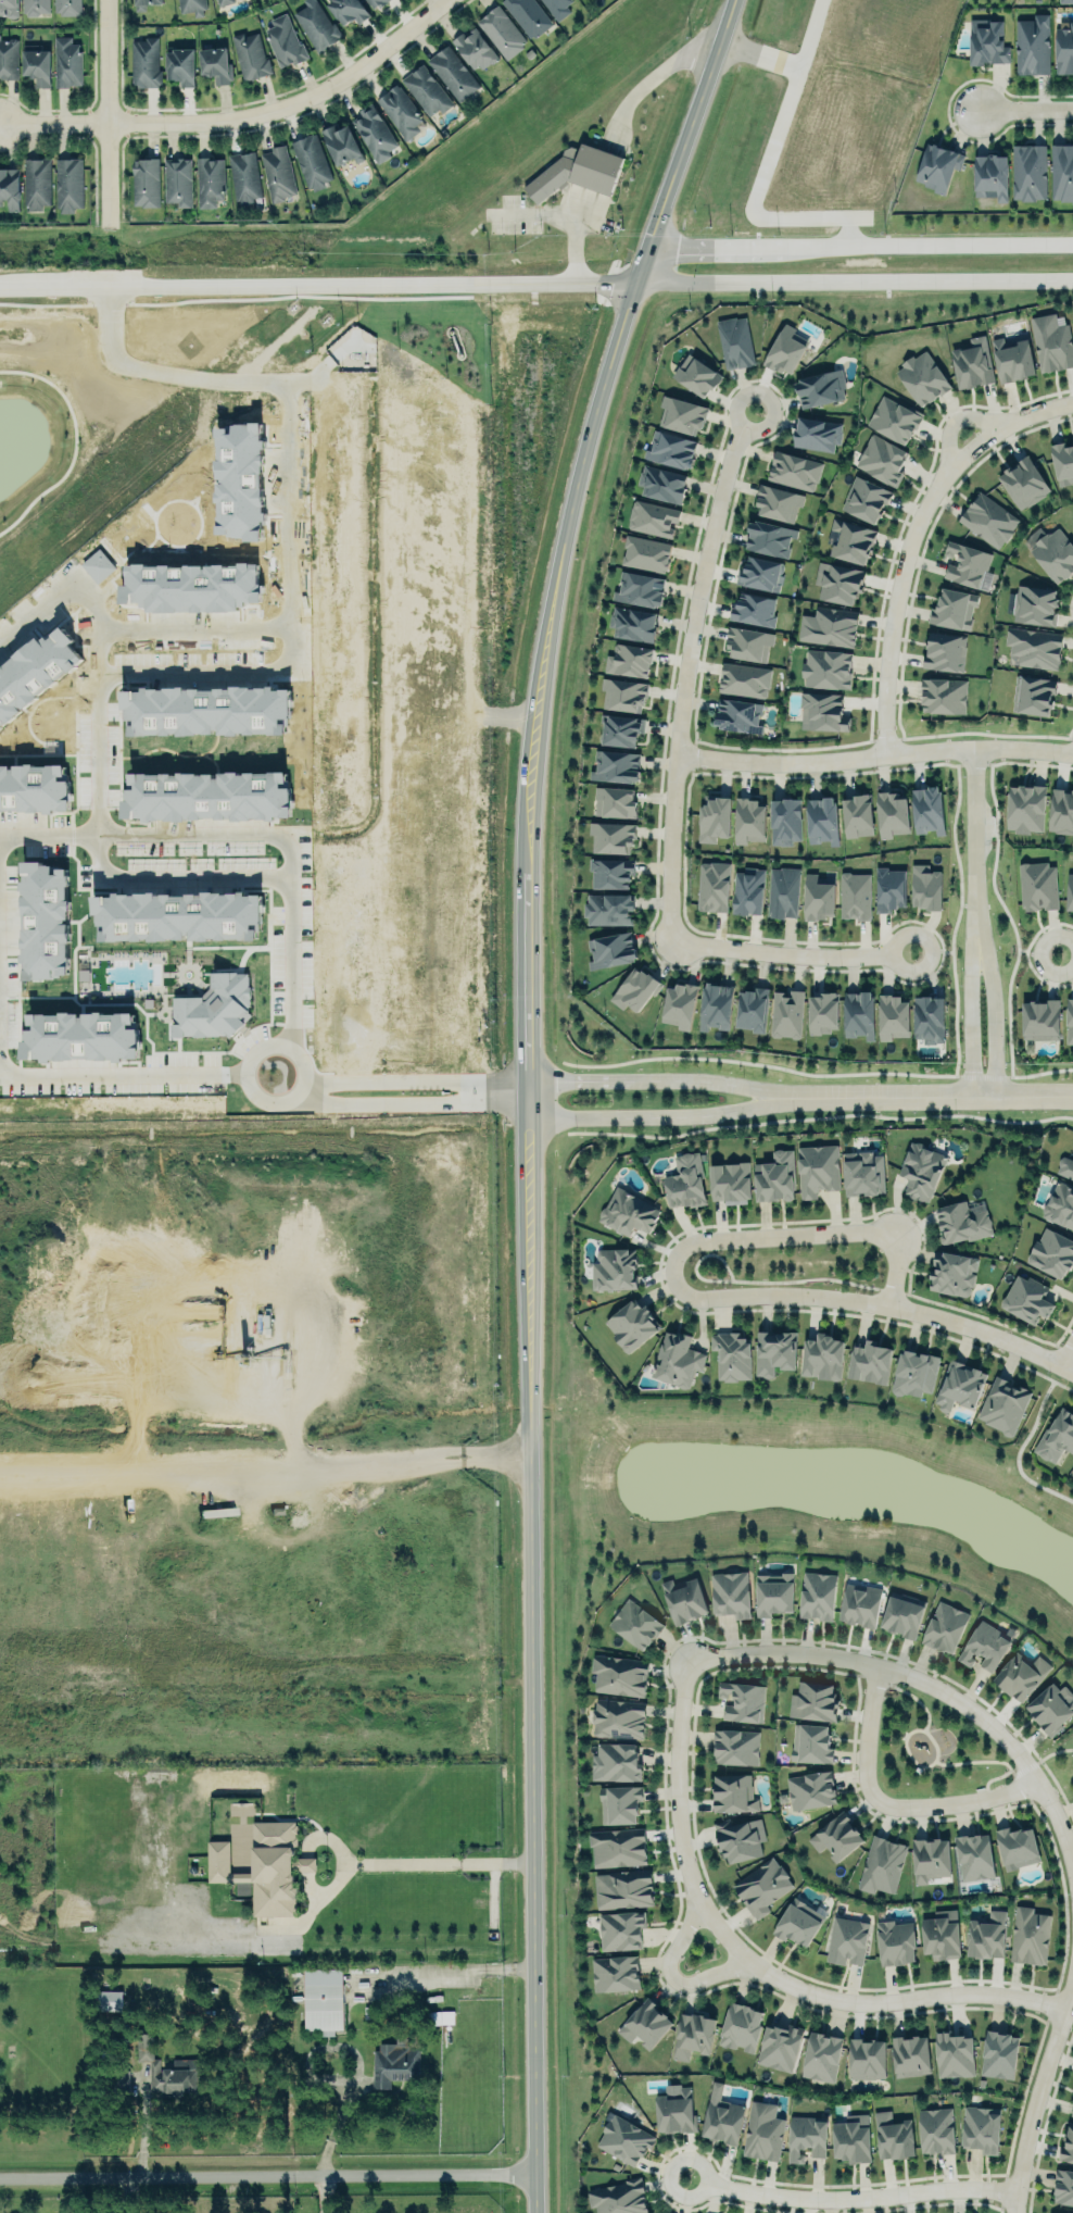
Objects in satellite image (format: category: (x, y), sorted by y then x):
parking lot: (949, 1)
building: (1065, 1)
building: (223, 2)
building: (146, 3)
building: (377, 3)
building: (189, 5)
building: (34, 7)
building: (66, 7)
building: (9, 8)
building: (557, 8)
building: (346, 11)
building: (529, 15)
building: (316, 25)
building: (502, 29)
building: (285, 42)
building: (986, 42)
building: (1032, 43)
building: (1063, 46)
building: (475, 48)
building: (250, 55)
building: (8, 59)
building: (66, 61)
building: (146, 63)
building: (36, 64)
building: (214, 64)
building: (180, 67)
road: (793, 67)
building: (453, 71)
road: (647, 84)
building: (427, 88)
road: (1022, 104)
building: (400, 109)
road: (102, 112)
road: (242, 118)
building: (374, 132)
building: (341, 145)
building: (312, 160)
building: (938, 165)
building: (1062, 170)
building: (278, 172)
building: (1027, 172)
building: (576, 174)
building: (244, 175)
building: (990, 176)
building: (177, 179)
building: (209, 182)
building: (68, 183)
building: (144, 183)
building: (36, 184)
building: (10, 186)
road: (744, 202)
parking lot: (548, 214)
traffic signals: (656, 233)
road: (929, 246)
road: (718, 247)
traffic signals: (677, 248)
road: (855, 283)
traffic signals: (608, 285)
road: (318, 287)
traffic signals: (629, 309)
building: (1051, 341)
building: (734, 342)
building: (785, 348)
building: (1012, 357)
building: (973, 361)
building: (697, 373)
building: (922, 376)
building: (820, 387)
road: (956, 412)
building: (894, 417)
building: (817, 432)
building: (671, 448)
building: (882, 458)
building: (1062, 461)
building: (241, 467)
building: (793, 471)
building: (1023, 482)
building: (661, 483)
building: (866, 497)
building: (778, 500)
building: (652, 518)
building: (988, 518)
road: (908, 530)
building: (770, 536)
building: (851, 539)
building: (1055, 553)
building: (964, 564)
building: (98, 565)
building: (759, 573)
building: (838, 580)
road: (285, 585)
building: (191, 586)
building: (641, 587)
road: (51, 598)
building: (1035, 603)
building: (954, 607)
building: (754, 608)
building: (633, 622)
building: (829, 627)
building: (748, 642)
building: (1035, 646)
building: (945, 650)
building: (629, 661)
road: (685, 663)
building: (17, 664)
building: (828, 667)
building: (744, 678)
building: (624, 692)
building: (944, 693)
building: (1033, 693)
building: (0, 698)
building: (167, 711)
building: (823, 711)
building: (739, 714)
building: (622, 728)
road: (872, 758)
building: (616, 766)
building: (34, 788)
building: (205, 796)
building: (615, 800)
building: (1025, 807)
building: (929, 809)
building: (1061, 810)
building: (892, 812)
building: (858, 814)
building: (714, 817)
building: (748, 820)
building: (785, 820)
building: (821, 821)
road: (243, 836)
building: (611, 836)
road: (973, 836)
building: (388, 839)
building: (610, 871)
road: (177, 876)
building: (712, 885)
building: (1036, 885)
building: (926, 886)
building: (889, 887)
building: (748, 890)
building: (1070, 891)
building: (782, 892)
building: (855, 895)
building: (818, 896)
building: (608, 908)
building: (177, 916)
building: (45, 921)
building: (611, 948)
road: (1060, 948)
road: (791, 952)
building: (635, 988)
building: (679, 1004)
road: (989, 1005)
building: (716, 1007)
road: (965, 1007)
building: (214, 1008)
building: (750, 1010)
building: (786, 1012)
building: (822, 1012)
building: (859, 1013)
building: (893, 1015)
building: (929, 1017)
building: (1040, 1020)
building: (1069, 1022)
building: (327, 1024)
building: (79, 1036)
road: (269, 1047)
road: (672, 1076)
road: (122, 1078)
road: (945, 1088)
road: (308, 1090)
road: (528, 1090)
road: (495, 1092)
road: (318, 1093)
road: (673, 1110)
building: (1072, 1151)
building: (1065, 1166)
building: (818, 1168)
building: (922, 1170)
building: (862, 1173)
building: (775, 1176)
building: (685, 1180)
building: (730, 1183)
building: (1060, 1204)
building: (627, 1212)
building: (963, 1222)
road: (690, 1242)
building: (1051, 1252)
building: (615, 1268)
building: (952, 1274)
building: (1026, 1298)
building: (631, 1325)
road: (982, 1329)
road: (1066, 1351)
building: (774, 1352)
building: (732, 1355)
building: (823, 1356)
building: (677, 1359)
building: (870, 1362)
building: (914, 1373)
building: (960, 1385)
building: (1003, 1405)
building: (1058, 1436)
quarry: (252, 1441)
road: (1021, 1443)
road: (266, 1473)
building: (1072, 1474)
building: (773, 1593)
building: (730, 1595)
building: (819, 1595)
building: (684, 1599)
building: (860, 1604)
building: (902, 1614)
building: (635, 1623)
building: (945, 1627)
building: (984, 1643)
building: (619, 1675)
building: (1020, 1676)
road: (911, 1693)
building: (742, 1700)
building: (812, 1701)
building: (1050, 1708)
building: (618, 1717)
road: (864, 1731)
road: (930, 1737)
building: (810, 1741)
building: (736, 1746)
park: (932, 1748)
road: (1042, 1756)
road: (983, 1760)
building: (615, 1762)
road: (990, 1777)
building: (811, 1789)
building: (733, 1793)
road: (957, 1797)
road: (1051, 1800)
building: (619, 1803)
road: (670, 1809)
building: (836, 1836)
building: (739, 1837)
building: (1015, 1846)
building: (617, 1847)
building: (974, 1856)
building: (932, 1859)
road: (430, 1862)
building: (880, 1863)
building: (304, 1864)
building: (257, 1871)
building: (762, 1887)
building: (623, 1888)
building: (798, 1923)
building: (621, 1929)
building: (942, 1935)
building: (987, 1936)
building: (1028, 1936)
building: (846, 1941)
building: (895, 1942)
road: (454, 1967)
road: (670, 1971)
building: (615, 1973)
road: (895, 1996)
building: (323, 2000)
building: (645, 2024)
building: (741, 2027)
building: (693, 2035)
building: (779, 2047)
building: (998, 2054)
building: (954, 2055)
building: (821, 2056)
building: (907, 2058)
building: (867, 2059)
building: (393, 2062)
building: (164, 2068)
building: (1072, 2111)
building: (676, 2112)
building: (722, 2121)
building: (981, 2129)
building: (761, 2130)
building: (936, 2130)
building: (892, 2135)
building: (807, 2137)
building: (624, 2139)
building: (853, 2139)
building: (1066, 2146)
road: (267, 2166)
building: (1063, 2187)
road: (128, 2190)
road: (840, 2192)
building: (619, 2197)

